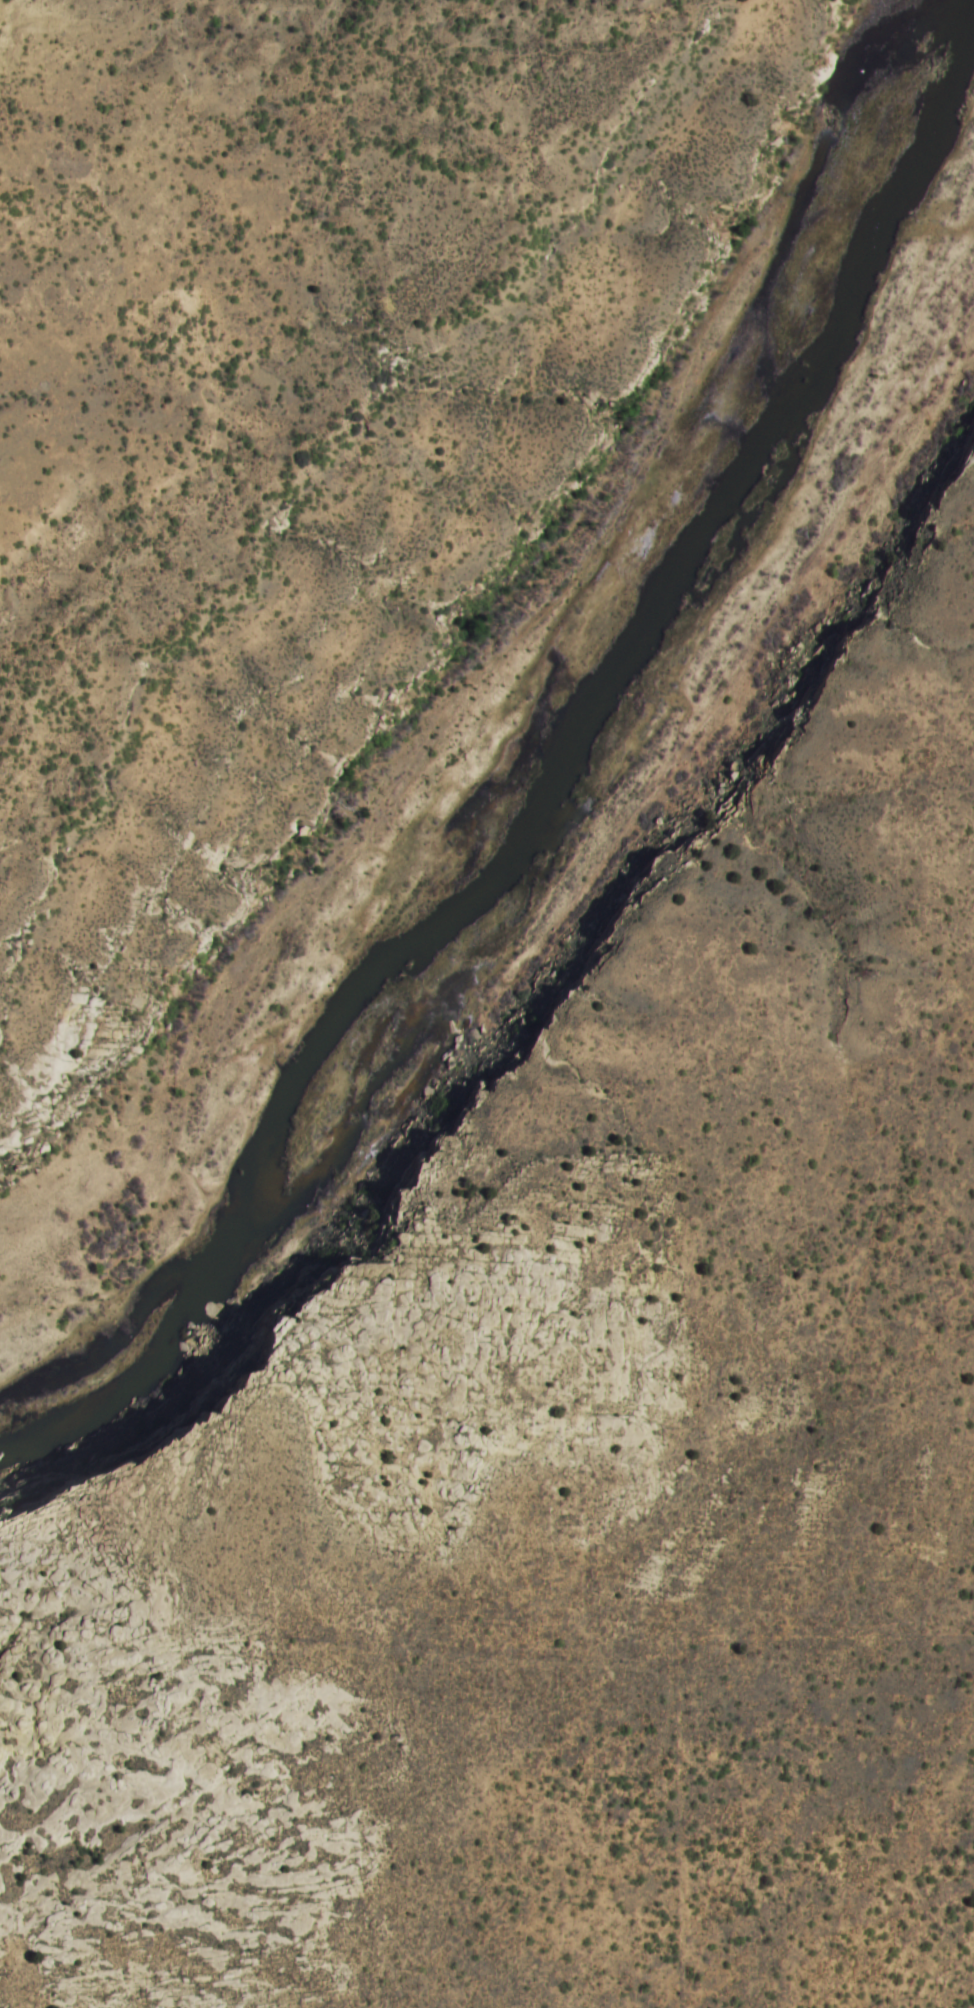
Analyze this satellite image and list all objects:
river: (542, 800)

